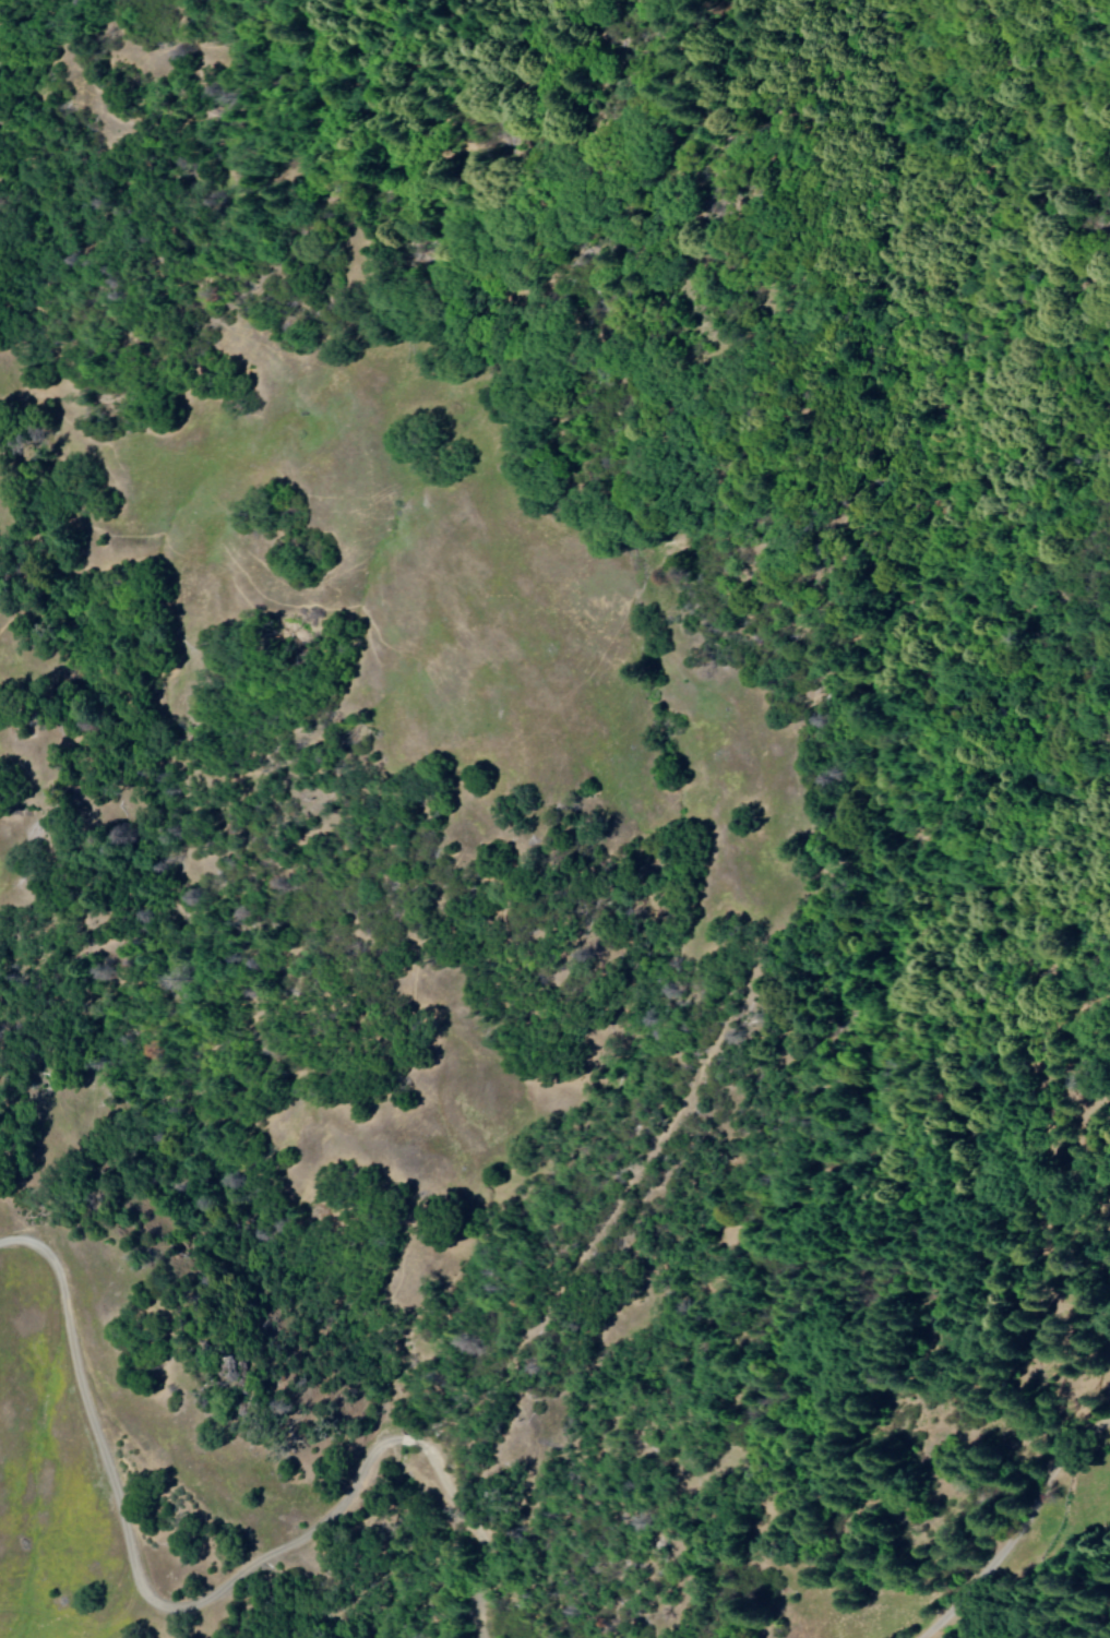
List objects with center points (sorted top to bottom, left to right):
road: (1034, 1529)
road: (200, 1610)

